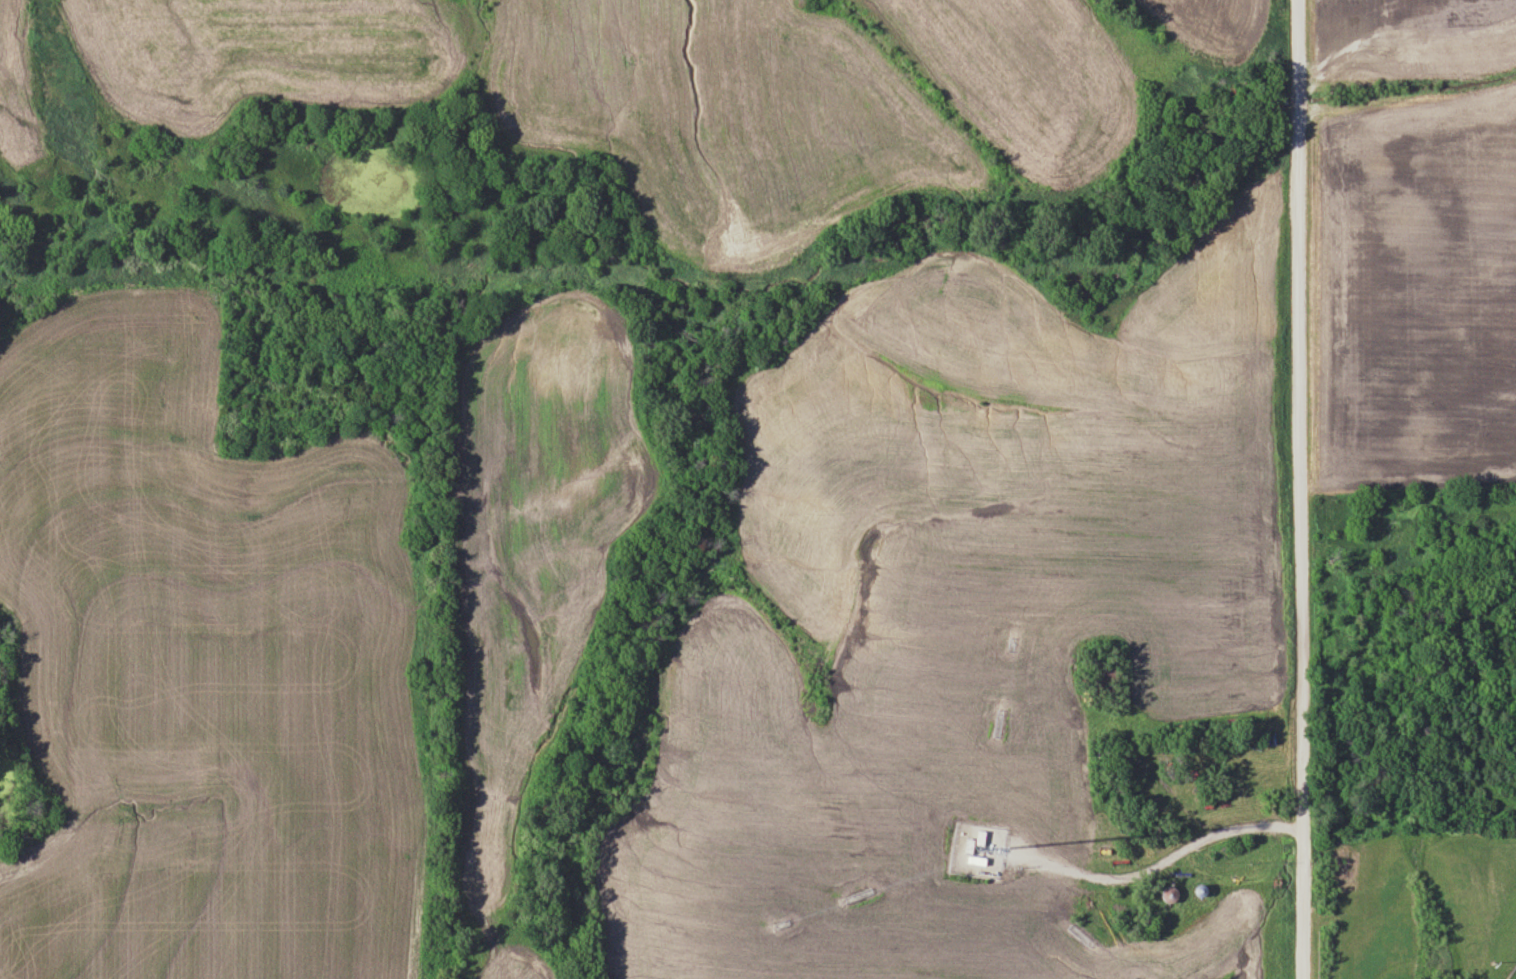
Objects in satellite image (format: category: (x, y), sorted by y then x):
road: (1298, 489)
road: (1160, 862)
park: (1512, 972)

